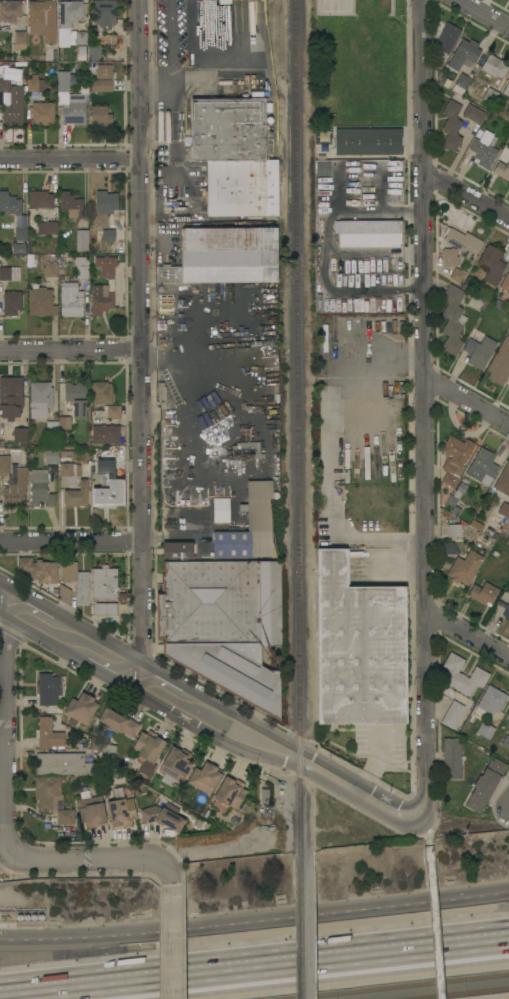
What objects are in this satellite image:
building: (242, 0)
building: (224, 2)
building: (10, 10)
building: (69, 12)
building: (104, 13)
road: (483, 14)
building: (42, 20)
road: (169, 32)
building: (78, 37)
building: (447, 39)
building: (109, 40)
building: (19, 41)
building: (94, 52)
building: (464, 54)
building: (493, 67)
road: (213, 68)
building: (103, 72)
building: (508, 79)
building: (62, 82)
building: (4, 84)
building: (35, 84)
building: (461, 84)
building: (102, 85)
road: (166, 86)
building: (506, 90)
building: (490, 95)
building: (75, 107)
building: (14, 108)
building: (42, 114)
building: (473, 114)
building: (507, 115)
building: (100, 116)
building: (451, 125)
building: (228, 130)
building: (368, 141)
building: (483, 150)
road: (178, 162)
road: (70, 163)
building: (322, 168)
building: (502, 169)
building: (242, 175)
road: (467, 195)
building: (40, 199)
building: (106, 202)
building: (9, 203)
building: (242, 203)
building: (71, 204)
building: (20, 228)
building: (48, 229)
building: (369, 232)
building: (106, 235)
building: (82, 240)
building: (463, 243)
building: (18, 248)
road: (375, 253)
road: (325, 254)
building: (225, 256)
building: (449, 257)
building: (106, 266)
building: (491, 266)
building: (81, 267)
building: (51, 270)
building: (9, 273)
building: (457, 275)
building: (505, 283)
building: (71, 300)
building: (101, 300)
building: (41, 302)
building: (11, 303)
building: (452, 319)
building: (508, 330)
building: (508, 331)
road: (140, 337)
road: (70, 349)
building: (479, 351)
building: (500, 363)
building: (102, 392)
building: (10, 396)
building: (40, 399)
building: (76, 399)
road: (467, 401)
road: (425, 410)
building: (108, 412)
building: (64, 423)
railway: (299, 426)
building: (51, 428)
building: (20, 432)
building: (105, 434)
building: (51, 456)
building: (454, 459)
building: (4, 464)
building: (482, 467)
building: (69, 469)
building: (502, 484)
building: (108, 486)
building: (15, 488)
building: (40, 489)
building: (460, 490)
building: (76, 496)
railway: (290, 499)
building: (453, 505)
building: (501, 513)
building: (250, 527)
building: (454, 530)
building: (493, 530)
road: (360, 540)
road: (70, 541)
building: (507, 541)
building: (449, 548)
building: (177, 550)
building: (465, 568)
building: (38, 570)
building: (76, 581)
building: (104, 583)
building: (65, 592)
building: (483, 594)
building: (104, 608)
building: (504, 608)
building: (223, 625)
road: (467, 637)
building: (358, 647)
building: (462, 675)
building: (48, 688)
building: (491, 700)
building: (80, 709)
road: (208, 714)
building: (452, 714)
building: (507, 715)
building: (118, 722)
road: (3, 729)
building: (484, 732)
building: (48, 734)
building: (505, 742)
building: (147, 750)
building: (452, 758)
building: (77, 762)
building: (175, 766)
building: (204, 778)
building: (485, 785)
building: (230, 792)
building: (264, 798)
building: (52, 799)
building: (90, 810)
building: (121, 812)
building: (162, 817)
road: (424, 837)
road: (212, 850)
road: (88, 859)
road: (167, 874)
road: (255, 920)
railway: (301, 925)
road: (434, 926)
road: (169, 941)
road: (254, 969)
railway: (396, 986)
railway: (455, 993)

